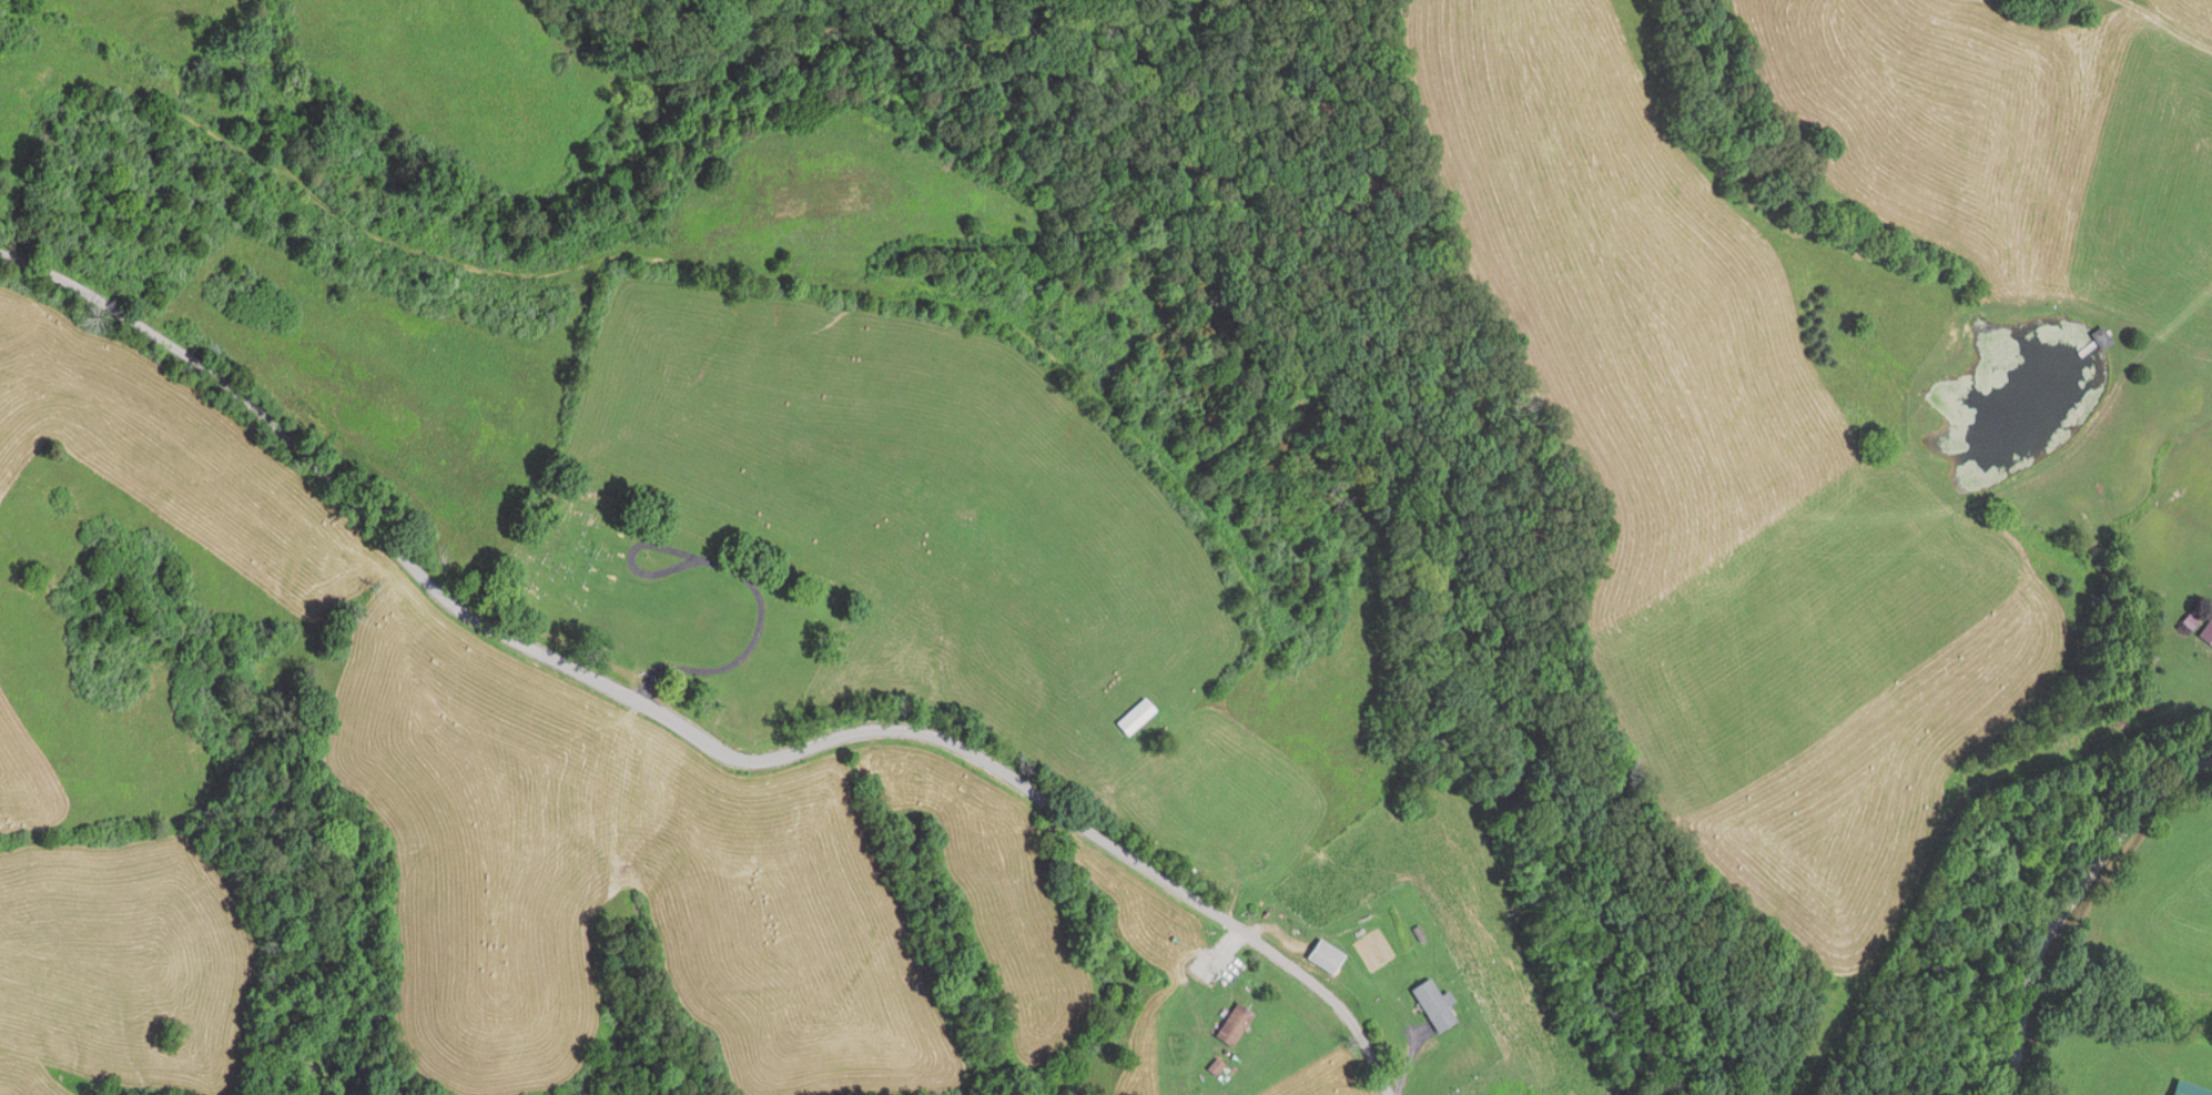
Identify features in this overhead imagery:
building: (2101, 339)
road: (745, 581)
road: (690, 728)
road: (2068, 902)
building: (1323, 959)
building: (1433, 1007)
building: (1232, 1027)

